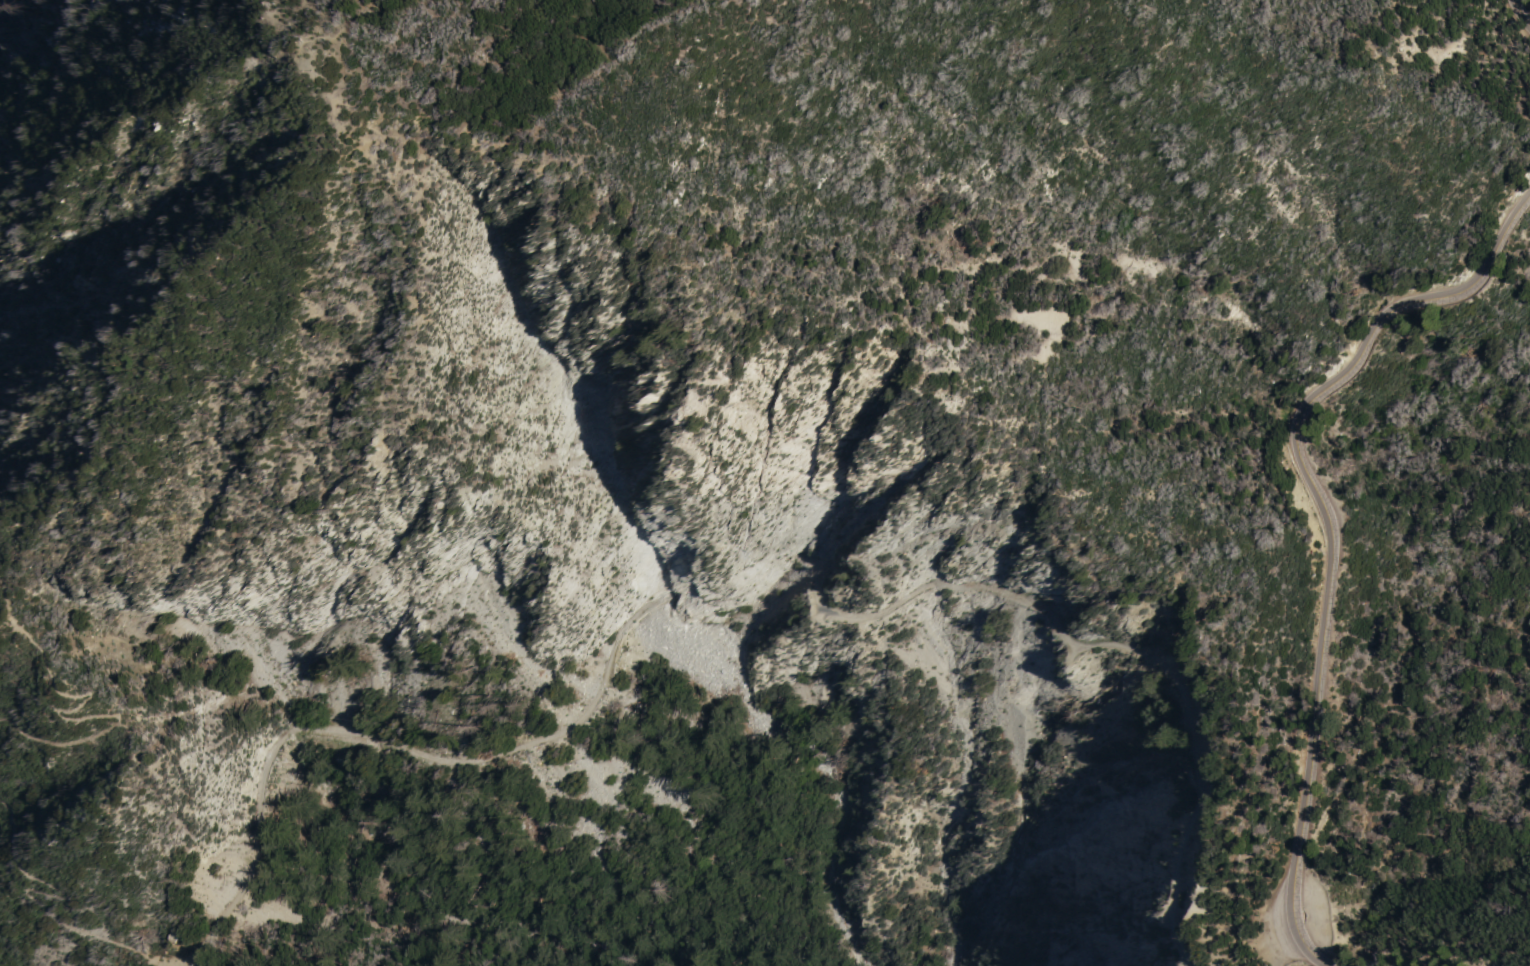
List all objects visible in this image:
road: (1519, 13)
road: (333, 33)
road: (1319, 514)
road: (1099, 643)
road: (63, 709)
road: (385, 742)
road: (1418, 816)
road: (61, 893)
parking lot: (1315, 913)
parking lot: (1267, 928)
building: (163, 935)
storage tank: (163, 935)
road: (1294, 960)
road: (1319, 962)

